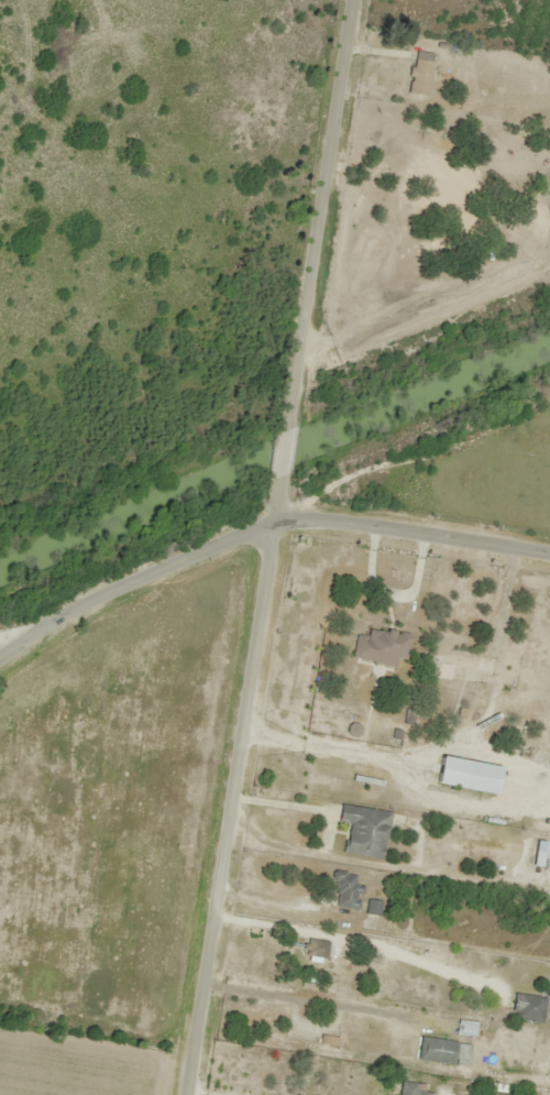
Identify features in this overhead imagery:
building: (419, 73)
building: (499, 147)
building: (385, 229)
road: (267, 547)
road: (264, 549)
building: (380, 647)
building: (453, 664)
building: (362, 831)
building: (345, 893)
building: (371, 907)
road: (362, 943)
building: (313, 948)
road: (300, 1000)
road: (533, 1000)
building: (526, 1007)
building: (463, 1028)
building: (435, 1050)
building: (405, 1088)

